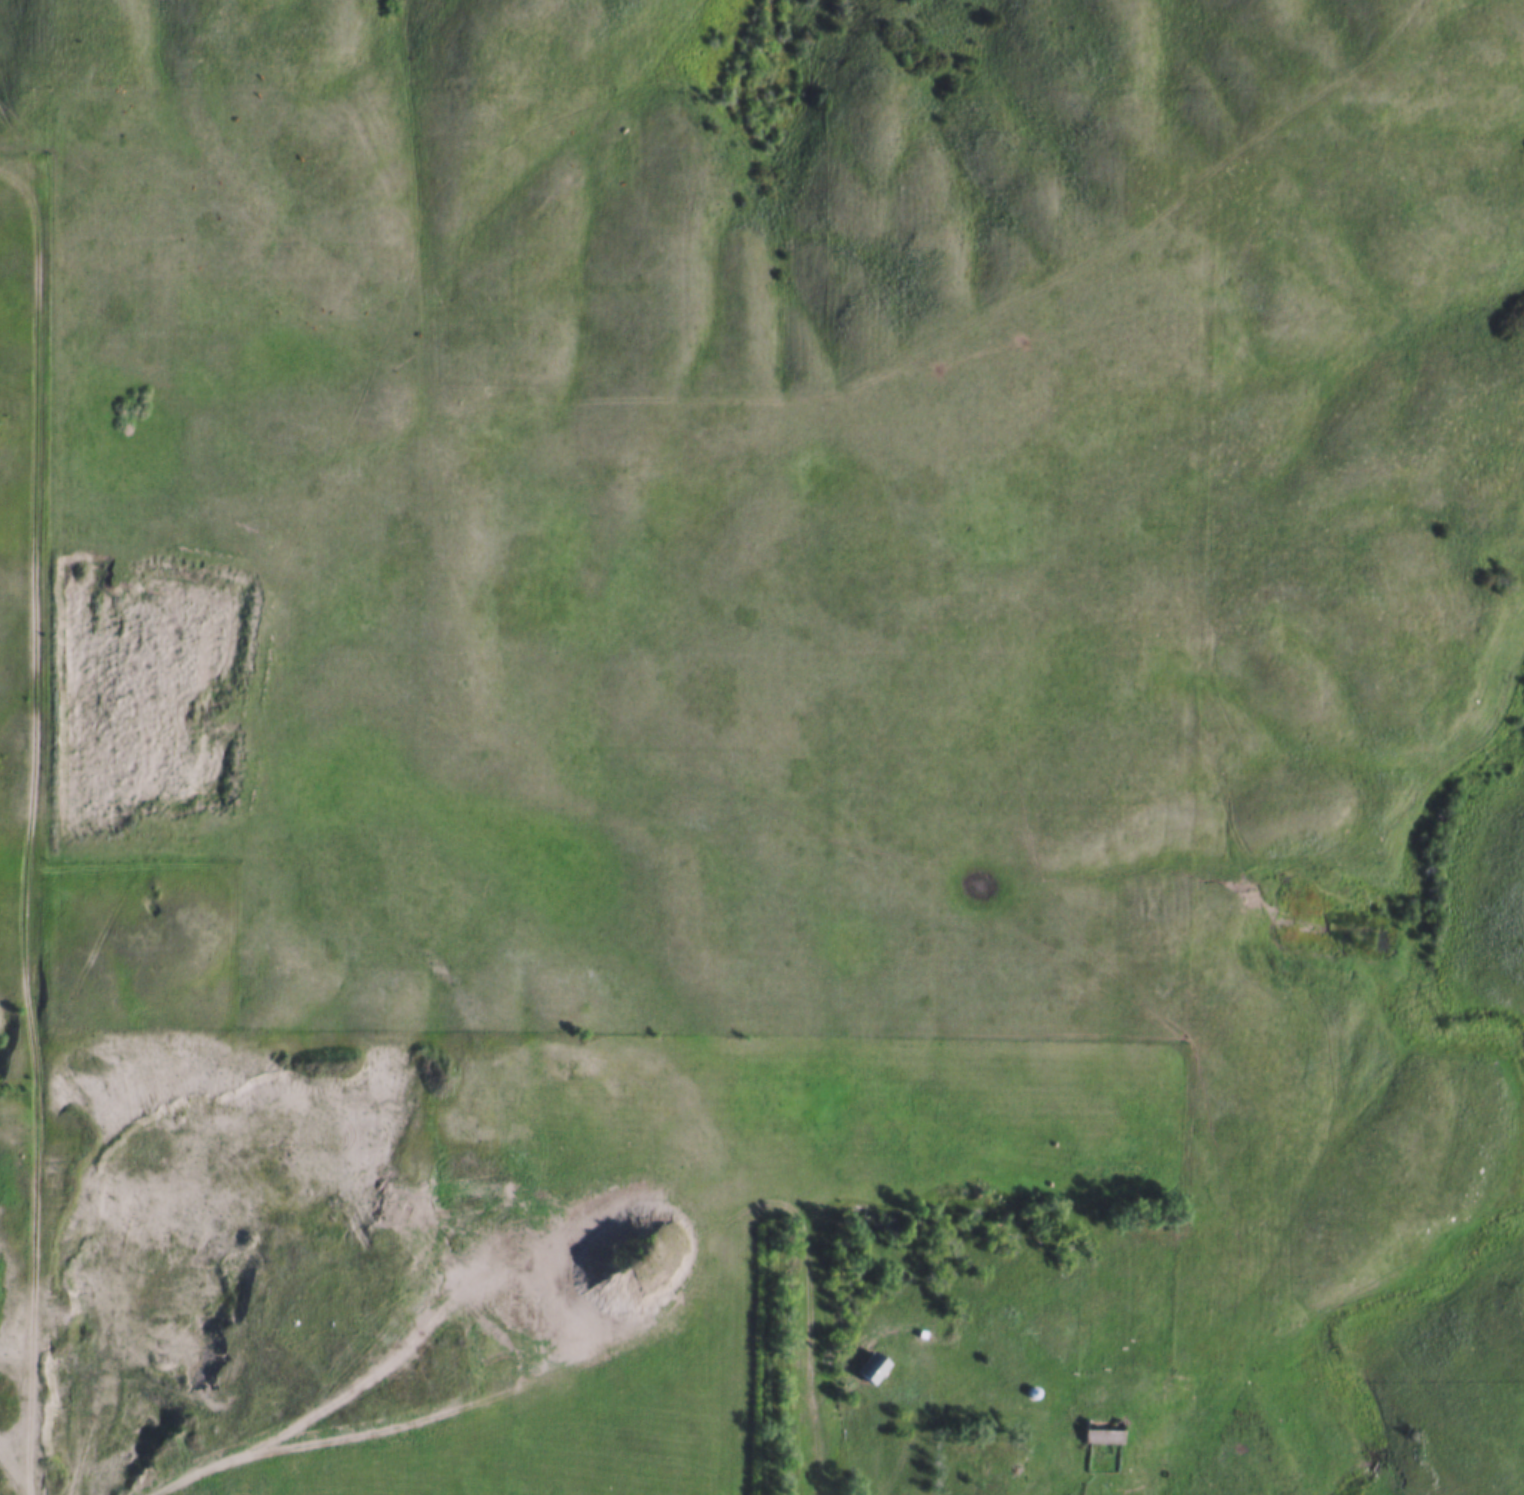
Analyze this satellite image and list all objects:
road: (32, 792)
quarry: (308, 1246)
building: (873, 1369)
building: (1103, 1431)
road: (18, 1471)

